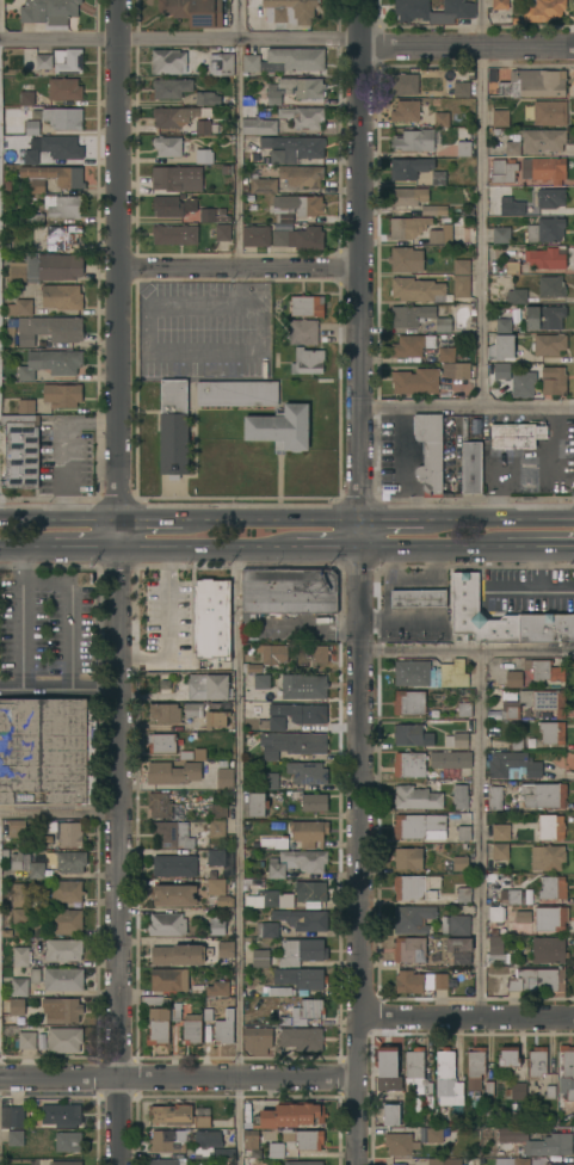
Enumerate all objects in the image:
building: (501, 5)
building: (542, 10)
building: (195, 11)
building: (289, 11)
building: (49, 12)
building: (434, 12)
road: (288, 41)
building: (297, 57)
building: (68, 60)
building: (43, 61)
building: (167, 61)
building: (249, 62)
building: (221, 63)
building: (532, 82)
building: (402, 84)
building: (171, 87)
building: (64, 88)
building: (461, 88)
building: (294, 90)
building: (26, 98)
building: (208, 98)
building: (406, 111)
building: (549, 112)
building: (173, 115)
building: (303, 116)
building: (62, 117)
building: (500, 117)
building: (442, 118)
building: (259, 125)
building: (32, 127)
building: (203, 127)
road: (236, 132)
building: (413, 140)
building: (535, 141)
building: (58, 146)
building: (171, 146)
building: (291, 148)
building: (463, 148)
building: (31, 156)
building: (204, 156)
building: (408, 167)
building: (544, 168)
building: (502, 171)
building: (56, 174)
building: (301, 174)
building: (177, 178)
building: (438, 178)
building: (261, 185)
building: (35, 186)
building: (407, 196)
building: (549, 197)
road: (476, 204)
building: (62, 205)
building: (172, 205)
building: (295, 207)
building: (517, 207)
building: (433, 210)
building: (214, 215)
building: (407, 227)
building: (545, 229)
building: (222, 232)
building: (174, 234)
building: (500, 234)
building: (255, 235)
building: (61, 236)
building: (436, 236)
building: (279, 238)
building: (308, 238)
building: (544, 258)
building: (406, 259)
road: (237, 266)
building: (461, 266)
building: (45, 267)
building: (513, 267)
building: (461, 285)
building: (550, 285)
building: (416, 289)
building: (516, 295)
building: (61, 296)
building: (305, 304)
building: (19, 307)
building: (416, 316)
building: (544, 316)
building: (502, 325)
building: (49, 327)
building: (303, 331)
building: (548, 344)
building: (411, 345)
road: (191, 351)
building: (445, 353)
building: (500, 355)
building: (307, 360)
building: (50, 363)
building: (457, 369)
building: (553, 380)
building: (415, 381)
building: (523, 383)
building: (236, 393)
building: (62, 394)
building: (26, 406)
road: (465, 408)
building: (173, 426)
building: (279, 426)
building: (516, 436)
road: (61, 442)
building: (20, 450)
building: (430, 450)
building: (470, 462)
road: (527, 466)
road: (57, 517)
road: (149, 517)
road: (270, 517)
road: (390, 517)
road: (499, 517)
road: (26, 544)
road: (85, 544)
road: (326, 544)
road: (431, 544)
road: (204, 545)
road: (539, 545)
traffic signals: (573, 545)
road: (116, 582)
road: (358, 582)
building: (289, 590)
building: (418, 597)
building: (500, 610)
road: (67, 612)
road: (19, 616)
building: (211, 618)
road: (167, 624)
road: (465, 646)
building: (273, 653)
building: (320, 653)
building: (412, 672)
building: (535, 672)
building: (453, 673)
building: (261, 680)
building: (209, 686)
building: (303, 686)
road: (58, 688)
building: (544, 699)
building: (408, 702)
building: (463, 708)
building: (193, 709)
building: (516, 710)
building: (301, 711)
building: (165, 713)
building: (216, 719)
building: (272, 722)
building: (551, 732)
building: (412, 735)
building: (457, 740)
building: (161, 741)
building: (291, 742)
building: (516, 742)
building: (47, 750)
building: (459, 759)
building: (408, 764)
building: (510, 764)
building: (307, 771)
building: (172, 772)
building: (224, 777)
building: (270, 781)
building: (537, 795)
building: (459, 796)
building: (416, 797)
building: (496, 797)
building: (314, 801)
building: (159, 803)
building: (257, 803)
road: (57, 808)
building: (218, 810)
building: (419, 826)
building: (550, 826)
building: (17, 827)
building: (216, 827)
road: (476, 827)
building: (308, 832)
building: (463, 832)
building: (500, 832)
building: (69, 833)
building: (173, 834)
building: (282, 844)
building: (500, 850)
road: (236, 855)
building: (215, 857)
building: (407, 857)
building: (547, 857)
building: (66, 861)
building: (304, 861)
building: (458, 863)
building: (26, 864)
building: (175, 865)
building: (274, 868)
building: (216, 886)
building: (415, 887)
building: (553, 887)
building: (66, 890)
building: (310, 890)
building: (18, 894)
building: (174, 894)
building: (463, 894)
building: (496, 896)
building: (514, 896)
building: (270, 899)
building: (496, 913)
building: (21, 914)
building: (523, 916)
building: (550, 917)
building: (302, 918)
building: (413, 919)
building: (67, 921)
building: (166, 923)
building: (216, 924)
building: (455, 924)
building: (267, 929)
building: (226, 948)
building: (409, 949)
building: (458, 949)
building: (548, 949)
building: (64, 950)
building: (301, 950)
building: (496, 951)
building: (175, 954)
building: (21, 957)
building: (260, 957)
building: (35, 975)
building: (301, 976)
building: (538, 979)
building: (64, 980)
building: (169, 980)
building: (419, 980)
building: (19, 987)
building: (217, 987)
building: (280, 991)
building: (155, 999)
building: (16, 1006)
road: (469, 1006)
building: (61, 1010)
building: (308, 1011)
building: (177, 1012)
building: (208, 1015)
building: (158, 1025)
building: (191, 1028)
building: (224, 1028)
building: (302, 1037)
building: (63, 1038)
building: (257, 1038)
building: (27, 1040)
building: (508, 1058)
building: (537, 1060)
building: (415, 1062)
building: (475, 1067)
building: (387, 1068)
building: (566, 1071)
road: (181, 1075)
building: (448, 1079)
building: (426, 1089)
building: (516, 1091)
building: (551, 1092)
building: (60, 1114)
building: (289, 1114)
building: (390, 1114)
building: (11, 1116)
building: (180, 1116)
building: (436, 1133)
building: (512, 1134)
building: (14, 1136)
building: (251, 1138)
building: (304, 1140)
building: (68, 1141)
building: (163, 1141)
building: (401, 1142)
building: (210, 1145)
building: (551, 1145)
building: (276, 1149)
building: (43, 1161)
building: (67, 1161)
building: (167, 1161)
building: (444, 1161)
building: (521, 1161)
building: (303, 1163)
building: (259, 1164)
building: (399, 1164)
building: (560, 1164)

